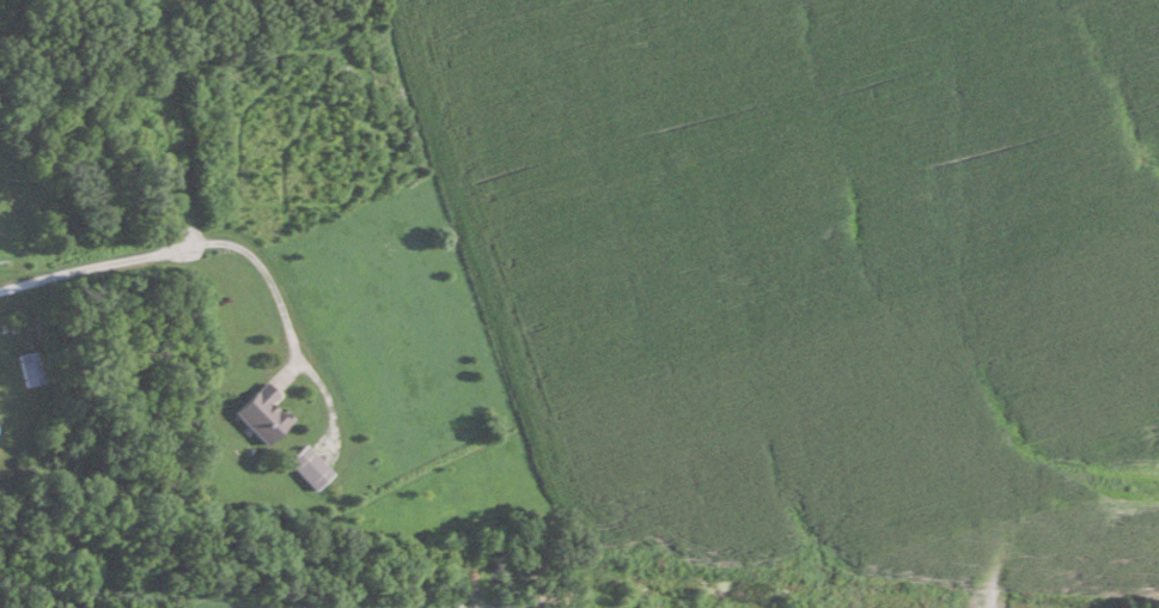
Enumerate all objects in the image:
road: (183, 247)
building: (33, 369)
building: (266, 415)
building: (312, 468)

